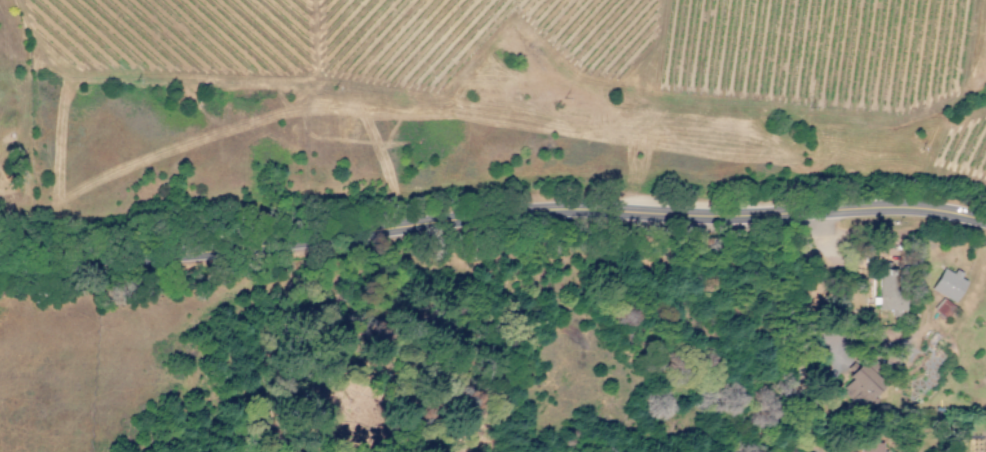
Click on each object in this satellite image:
road: (492, 218)
building: (947, 284)
building: (889, 289)
building: (942, 308)
road: (386, 360)
road: (407, 376)
building: (862, 386)
road: (349, 406)
road: (299, 438)
building: (871, 447)

